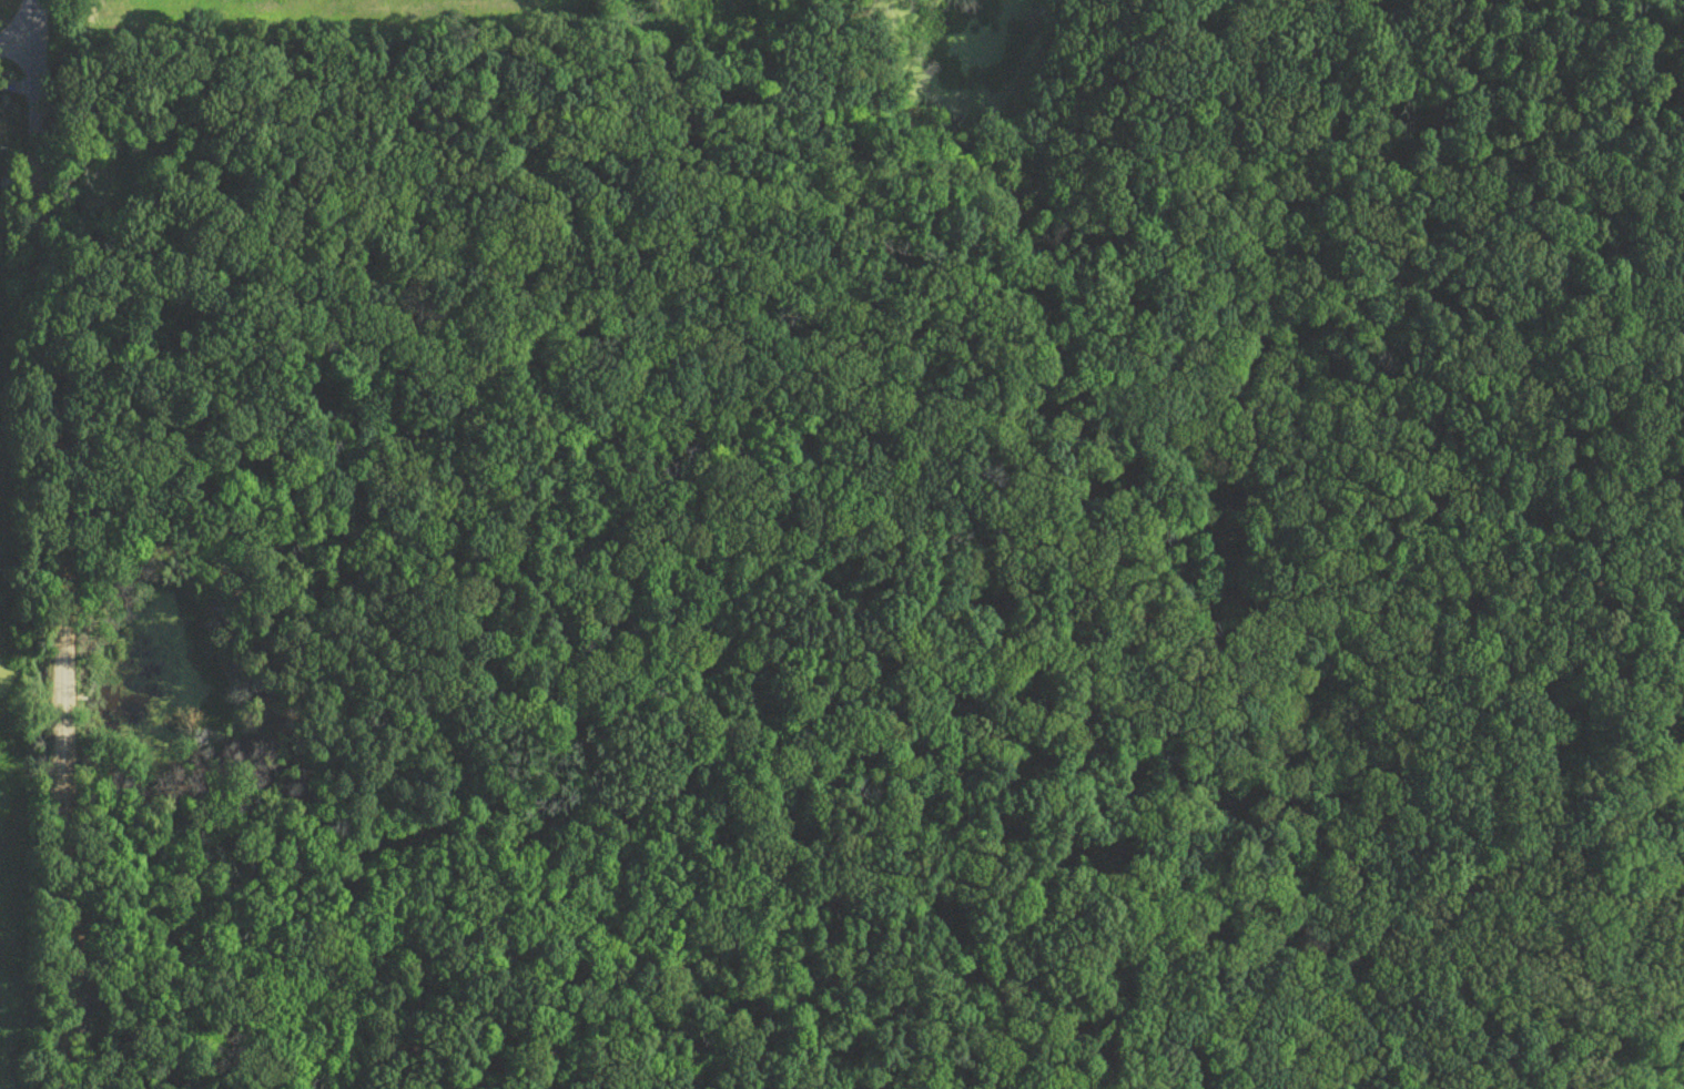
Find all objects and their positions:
crop: (313, 14)
road: (34, 30)
road: (18, 61)
road: (42, 574)

